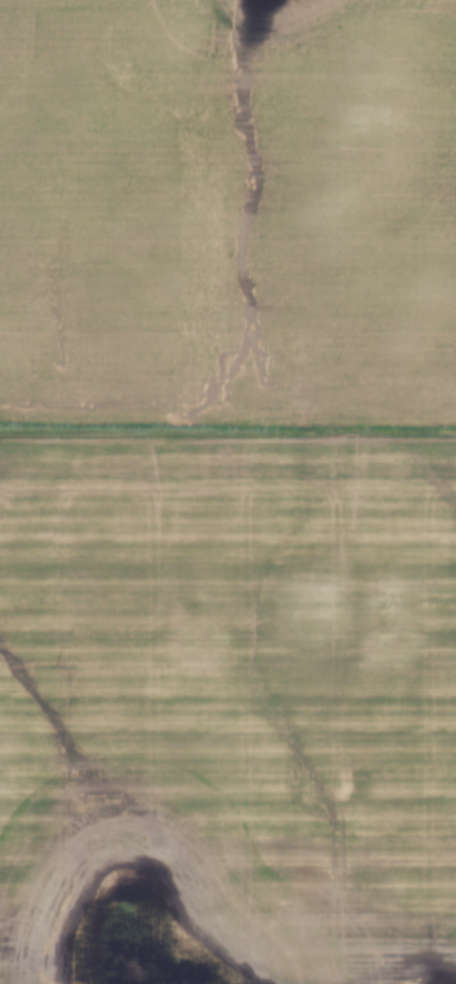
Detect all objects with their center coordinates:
road: (228, 436)

